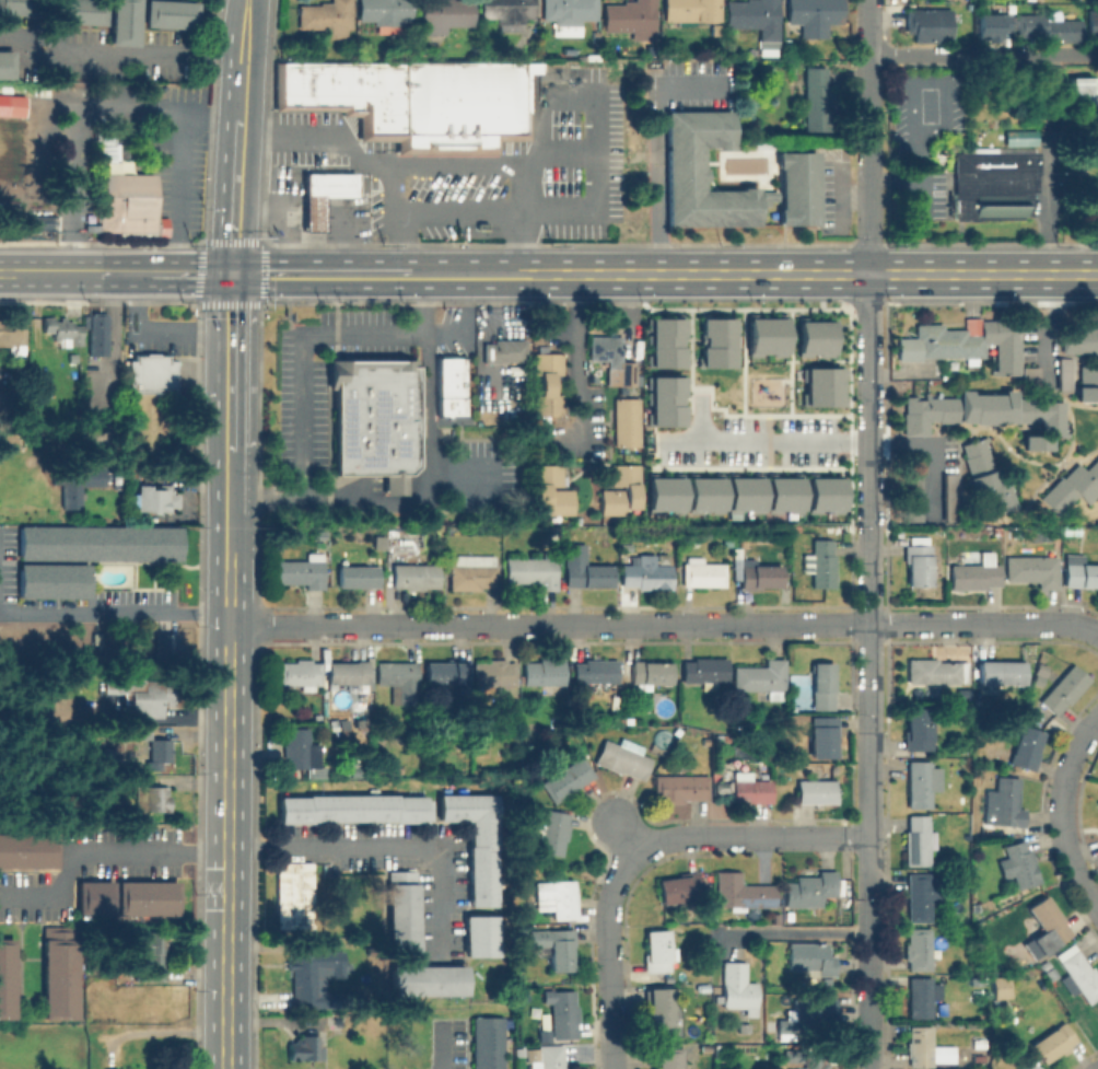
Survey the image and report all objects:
building: (22, 7)
building: (506, 11)
building: (80, 12)
building: (690, 12)
building: (171, 13)
building: (385, 13)
building: (444, 14)
building: (569, 14)
building: (814, 15)
road: (245, 16)
building: (328, 16)
building: (755, 16)
building: (631, 18)
building: (125, 22)
building: (1089, 22)
building: (930, 24)
road: (869, 27)
building: (991, 27)
building: (1049, 27)
building: (716, 28)
road: (120, 49)
road: (1068, 54)
road: (955, 55)
building: (7, 63)
road: (242, 75)
road: (928, 81)
building: (1078, 90)
building: (817, 97)
building: (414, 98)
road: (155, 104)
building: (13, 107)
park: (1001, 108)
road: (317, 136)
building: (1017, 137)
road: (655, 141)
building: (105, 149)
road: (492, 162)
road: (868, 164)
building: (686, 167)
road: (920, 177)
road: (893, 179)
building: (992, 185)
road: (525, 187)
building: (798, 187)
road: (68, 188)
road: (175, 189)
road: (839, 189)
building: (324, 195)
road: (235, 196)
building: (769, 197)
building: (124, 201)
road: (840, 210)
road: (593, 213)
building: (480, 225)
road: (262, 239)
road: (396, 244)
road: (521, 244)
road: (39, 272)
road: (102, 274)
road: (178, 274)
traffic signals: (232, 275)
road: (314, 275)
road: (747, 275)
road: (464, 324)
road: (156, 327)
road: (110, 328)
road: (1043, 328)
building: (63, 329)
building: (12, 333)
building: (96, 334)
building: (764, 335)
building: (814, 336)
building: (663, 339)
building: (714, 342)
building: (962, 344)
building: (606, 348)
building: (504, 350)
road: (575, 360)
road: (230, 362)
building: (627, 373)
building: (1061, 373)
building: (151, 374)
parking lot: (322, 374)
building: (1086, 375)
building: (546, 384)
building: (819, 385)
building: (449, 387)
road: (868, 397)
building: (663, 399)
building: (4, 407)
road: (425, 408)
building: (983, 413)
building: (371, 415)
building: (623, 421)
road: (296, 423)
parking lot: (755, 442)
road: (766, 442)
road: (930, 446)
building: (983, 475)
road: (229, 484)
building: (79, 485)
building: (1072, 486)
building: (912, 488)
building: (549, 489)
building: (618, 489)
building: (662, 492)
building: (702, 492)
building: (781, 492)
building: (822, 492)
building: (741, 493)
building: (948, 496)
building: (152, 499)
road: (262, 500)
road: (229, 537)
building: (96, 543)
building: (821, 563)
building: (918, 565)
building: (584, 569)
building: (1032, 570)
building: (302, 571)
building: (533, 571)
building: (1079, 571)
building: (472, 572)
building: (702, 572)
building: (360, 574)
building: (647, 574)
building: (759, 574)
building: (974, 576)
building: (417, 577)
building: (50, 580)
road: (114, 611)
road: (664, 625)
building: (164, 652)
building: (705, 671)
building: (936, 671)
building: (348, 672)
building: (445, 672)
building: (595, 672)
building: (649, 672)
building: (494, 673)
building: (545, 673)
building: (1001, 673)
building: (300, 674)
building: (760, 675)
road: (872, 678)
building: (398, 681)
building: (821, 686)
building: (1065, 688)
building: (145, 705)
building: (644, 707)
building: (918, 730)
building: (139, 732)
building: (346, 733)
building: (822, 735)
building: (297, 747)
building: (1026, 747)
building: (159, 753)
building: (108, 757)
building: (623, 757)
building: (135, 766)
building: (390, 771)
building: (568, 778)
building: (921, 783)
building: (680, 788)
building: (750, 790)
building: (815, 791)
building: (150, 797)
building: (1008, 802)
building: (1097, 803)
building: (353, 807)
road: (1062, 812)
road: (226, 814)
building: (553, 833)
building: (1097, 835)
road: (746, 836)
building: (476, 840)
building: (919, 840)
road: (384, 846)
building: (27, 849)
road: (104, 856)
building: (1019, 865)
building: (680, 887)
building: (810, 888)
road: (873, 888)
building: (741, 891)
building: (294, 894)
building: (94, 896)
building: (924, 896)
building: (148, 897)
building: (556, 897)
building: (402, 913)
building: (1048, 926)
road: (801, 931)
building: (479, 934)
building: (554, 946)
building: (919, 949)
building: (657, 951)
building: (150, 955)
building: (813, 963)
road: (610, 964)
building: (59, 972)
building: (1049, 974)
building: (1078, 974)
building: (311, 975)
building: (7, 977)
building: (427, 979)
building: (1002, 987)
building: (739, 991)
building: (922, 996)
road: (873, 1004)
building: (661, 1012)
building: (563, 1013)
building: (809, 1020)
building: (744, 1032)
building: (488, 1043)
building: (1053, 1043)
road: (446, 1045)
building: (921, 1046)
building: (305, 1048)
building: (719, 1054)
building: (548, 1056)
building: (671, 1058)
building: (813, 1062)
building: (109, 1068)
building: (1017, 1068)

